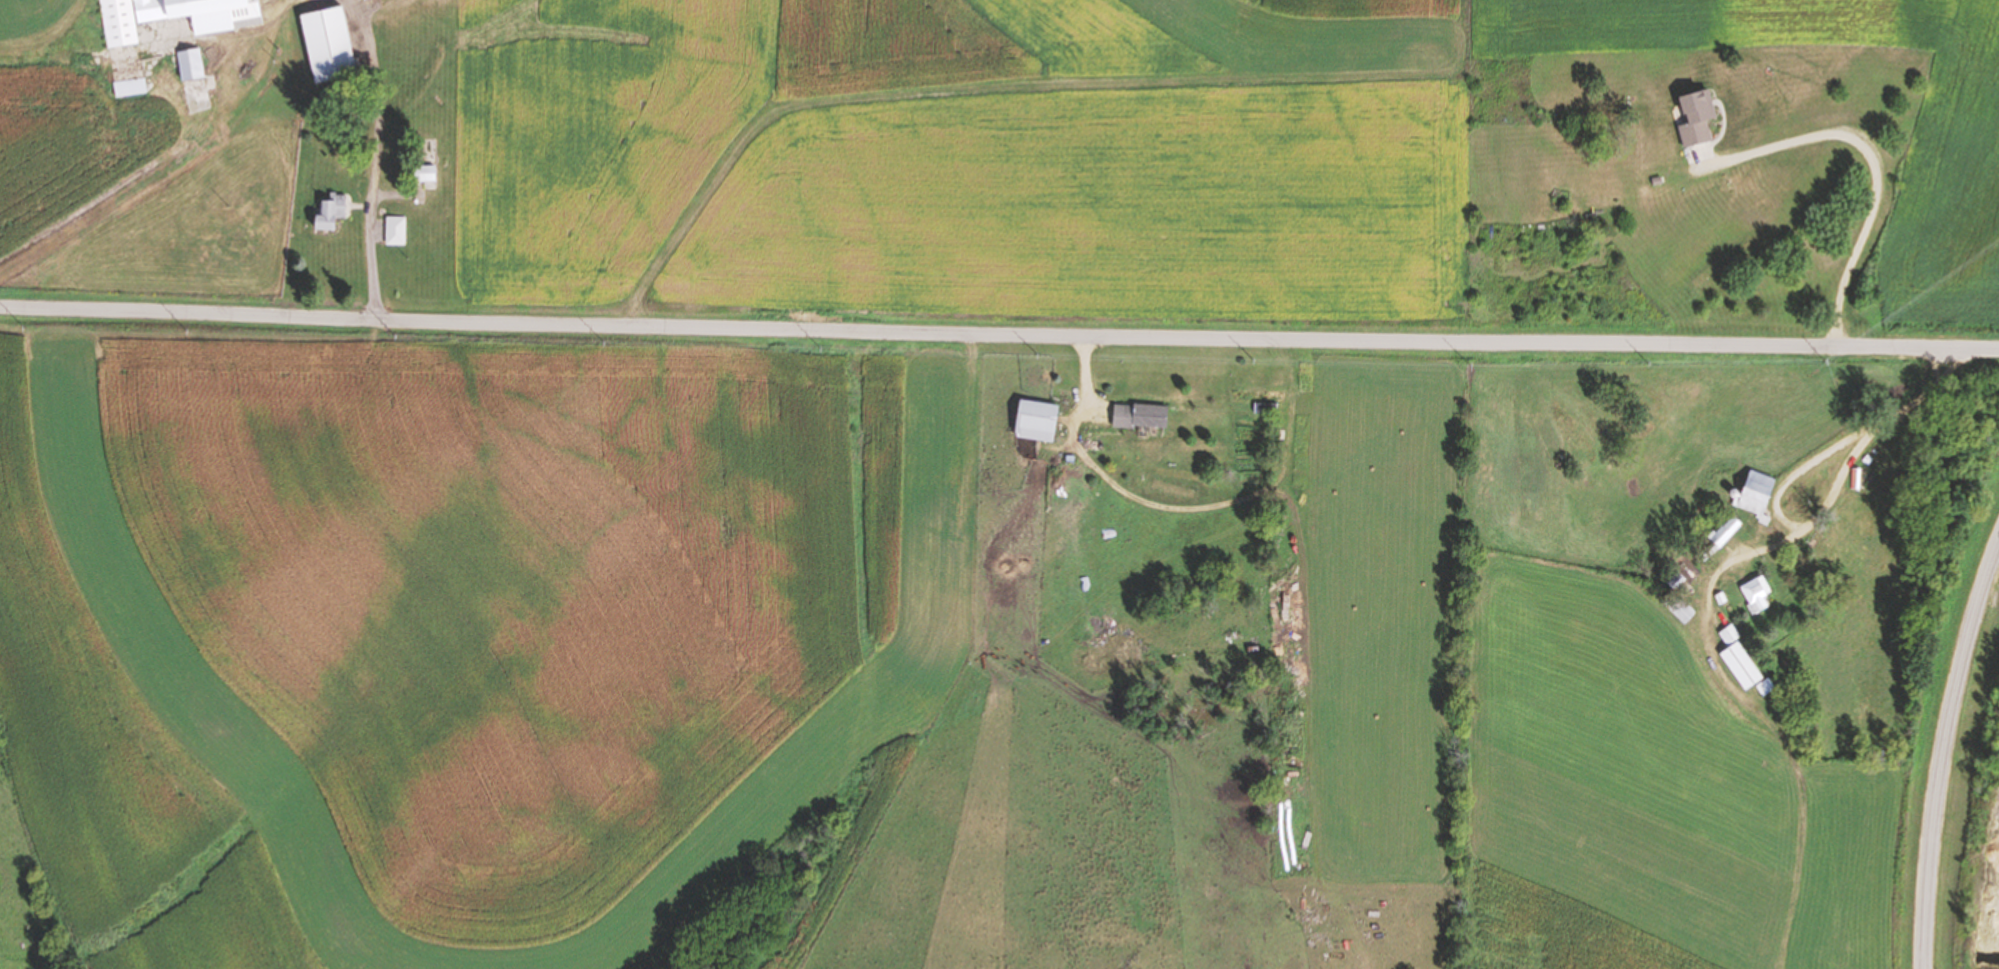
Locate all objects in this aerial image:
building: (174, 16)
building: (326, 44)
building: (188, 64)
building: (128, 87)
building: (1695, 117)
road: (1875, 160)
building: (330, 213)
building: (395, 231)
road: (999, 333)
building: (1259, 399)
building: (1138, 415)
building: (1034, 420)
road: (1804, 467)
building: (1857, 478)
building: (1758, 493)
road: (1821, 510)
building: (1723, 534)
building: (1674, 581)
building: (1757, 595)
building: (1721, 598)
building: (1679, 609)
building: (1729, 634)
building: (1739, 665)
building: (1765, 687)
road: (1943, 751)
quarry: (1969, 794)

